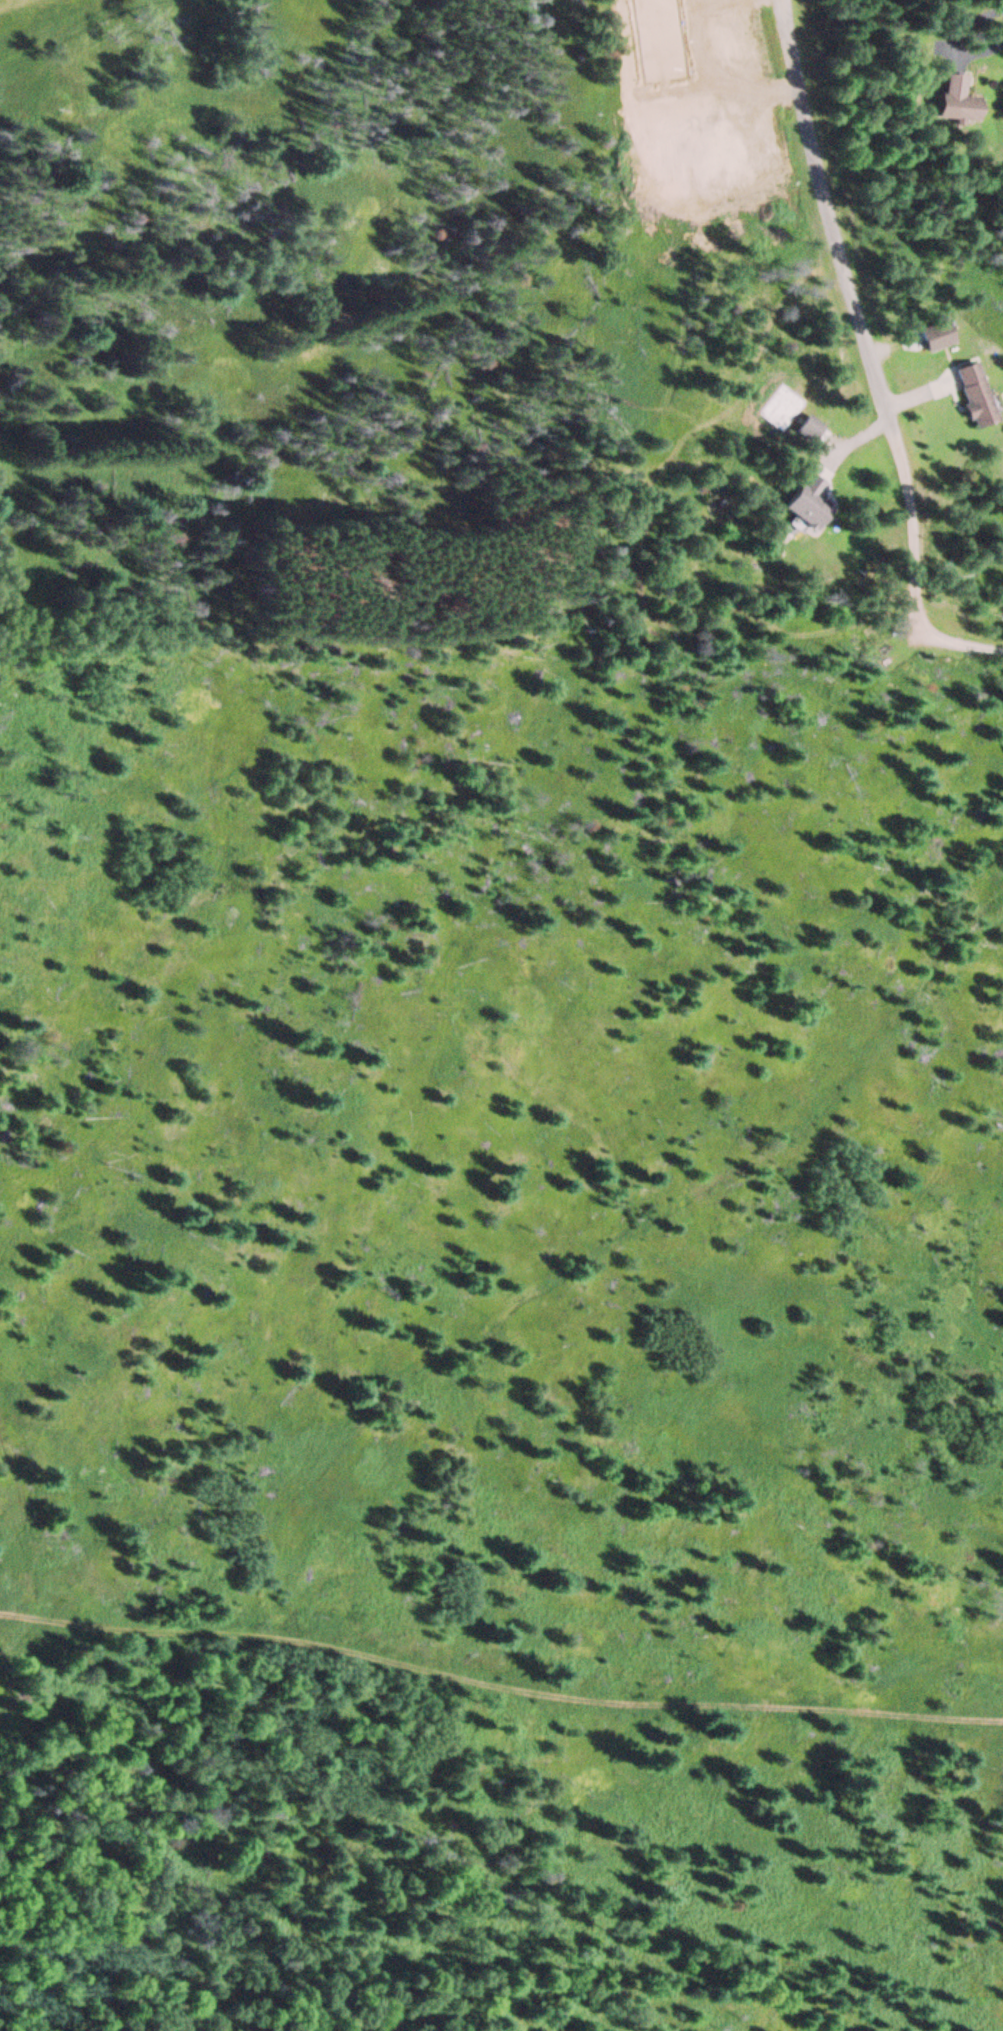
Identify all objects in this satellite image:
building: (953, 101)
road: (839, 232)
building: (931, 338)
building: (968, 398)
building: (804, 429)
building: (804, 502)

